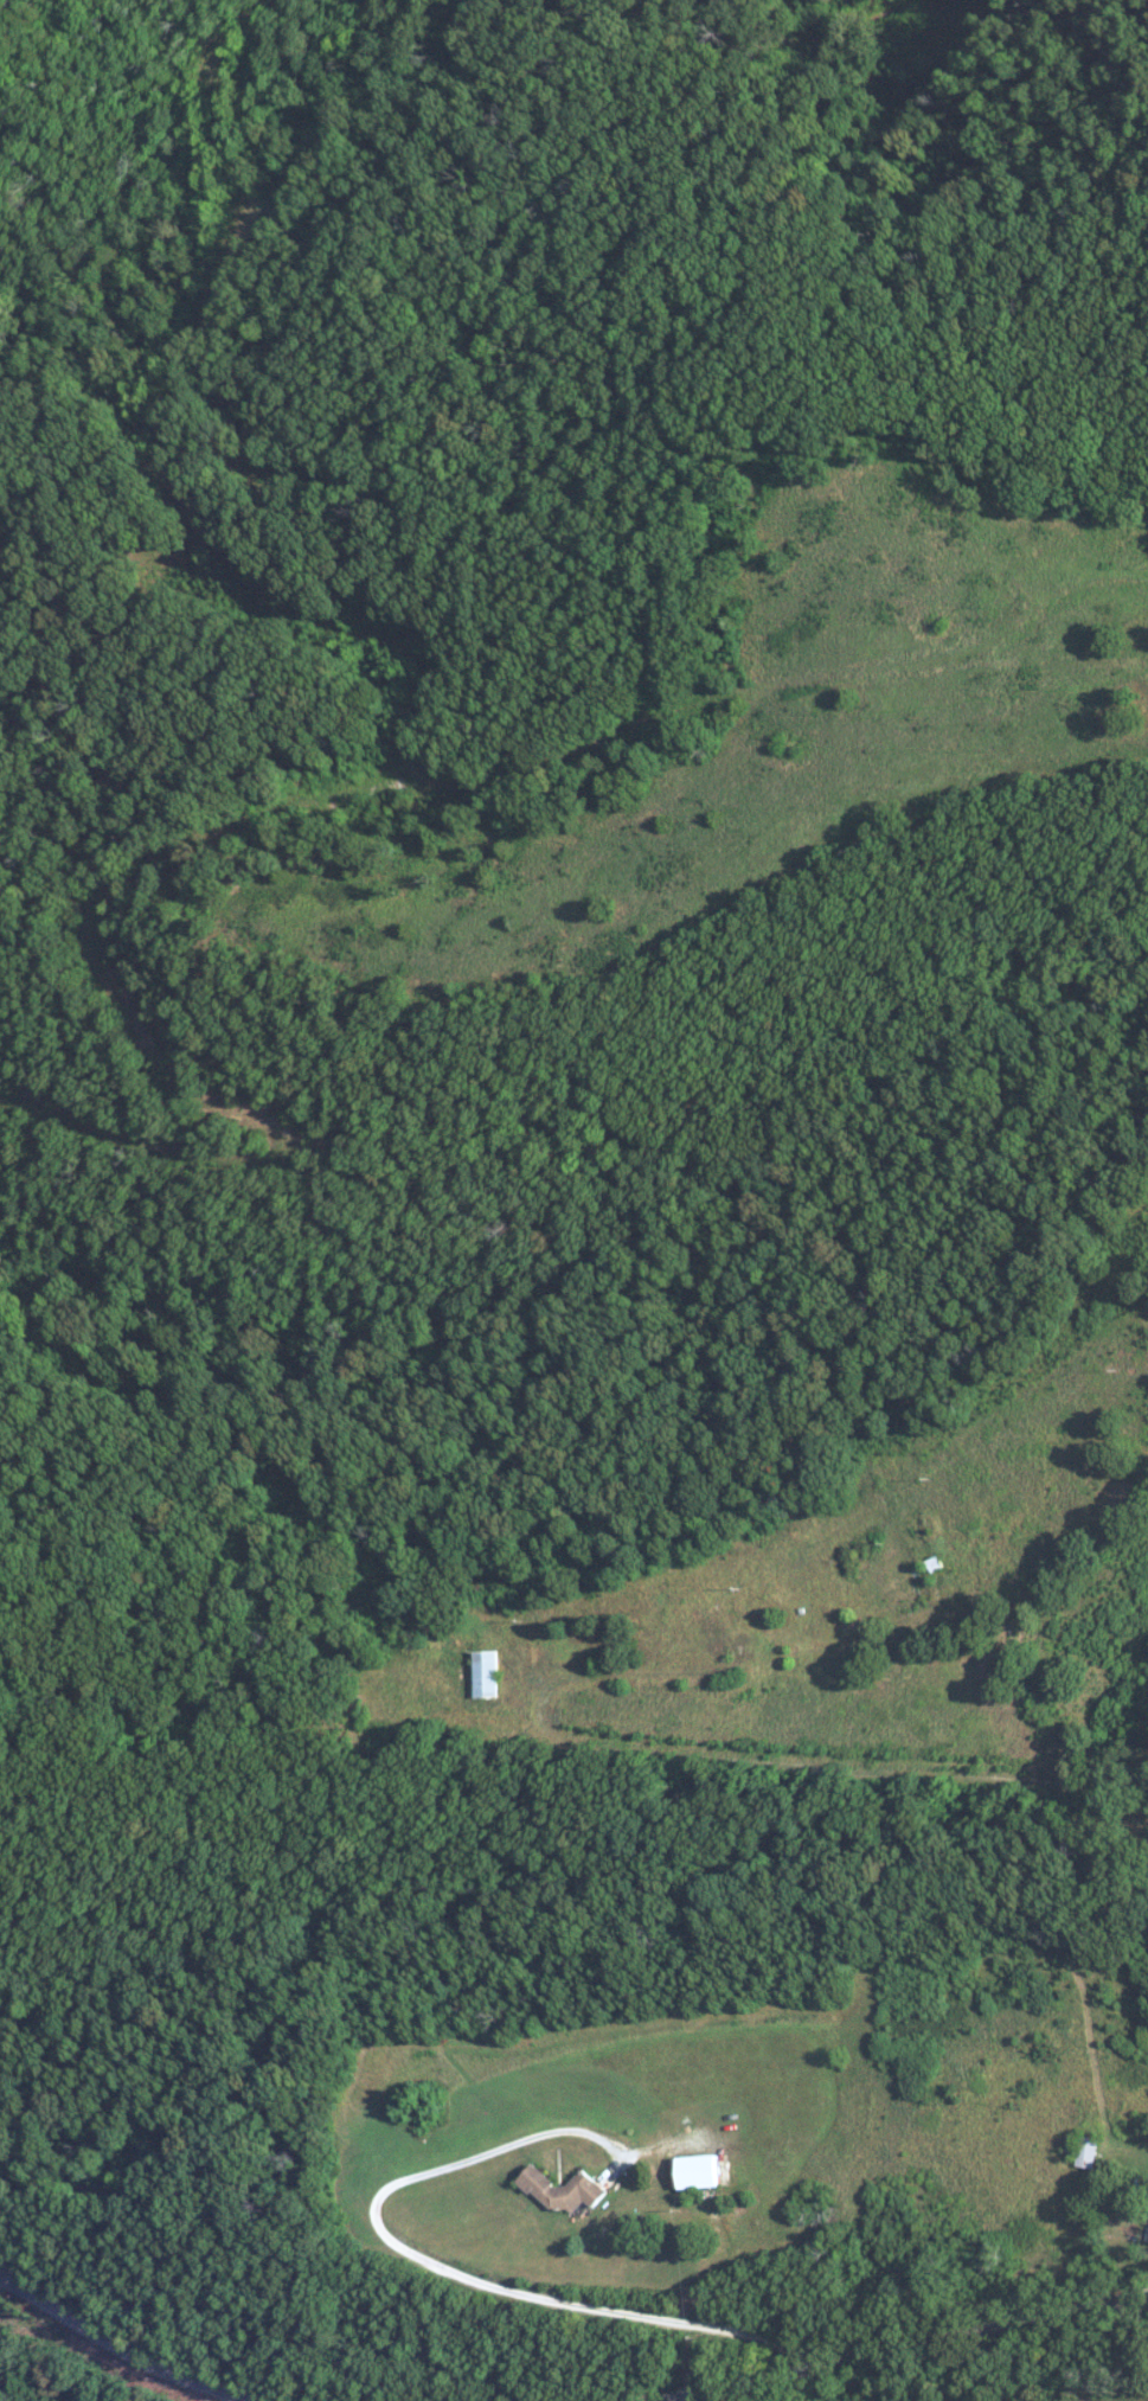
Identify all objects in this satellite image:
building: (483, 1673)
road: (1007, 1697)
building: (1085, 2150)
building: (698, 2169)
building: (563, 2189)
road: (700, 2228)
road: (904, 2345)
road: (118, 2348)

